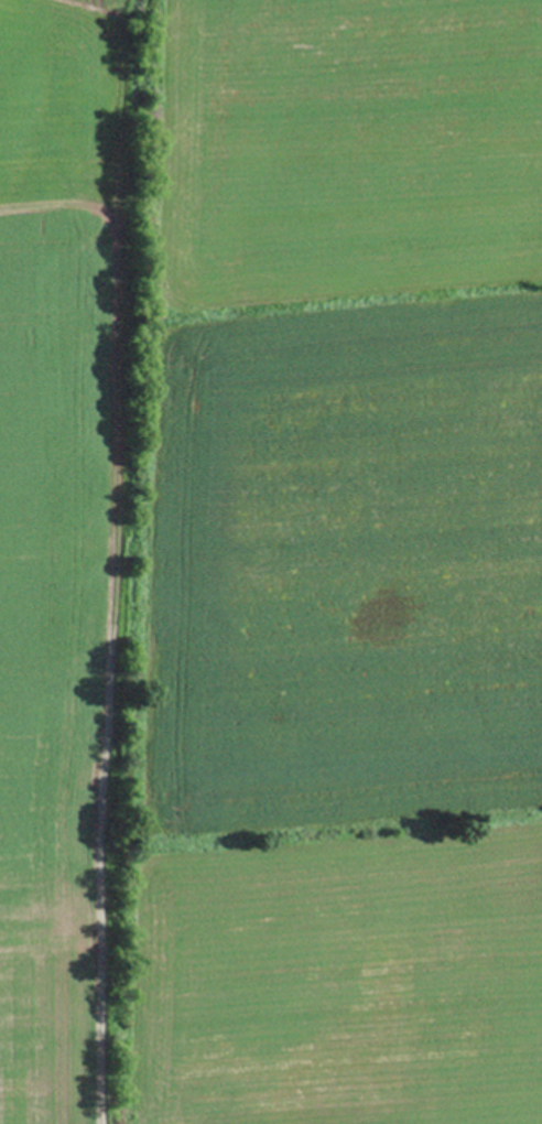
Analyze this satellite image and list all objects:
crop: (74, 530)
crop: (344, 573)

